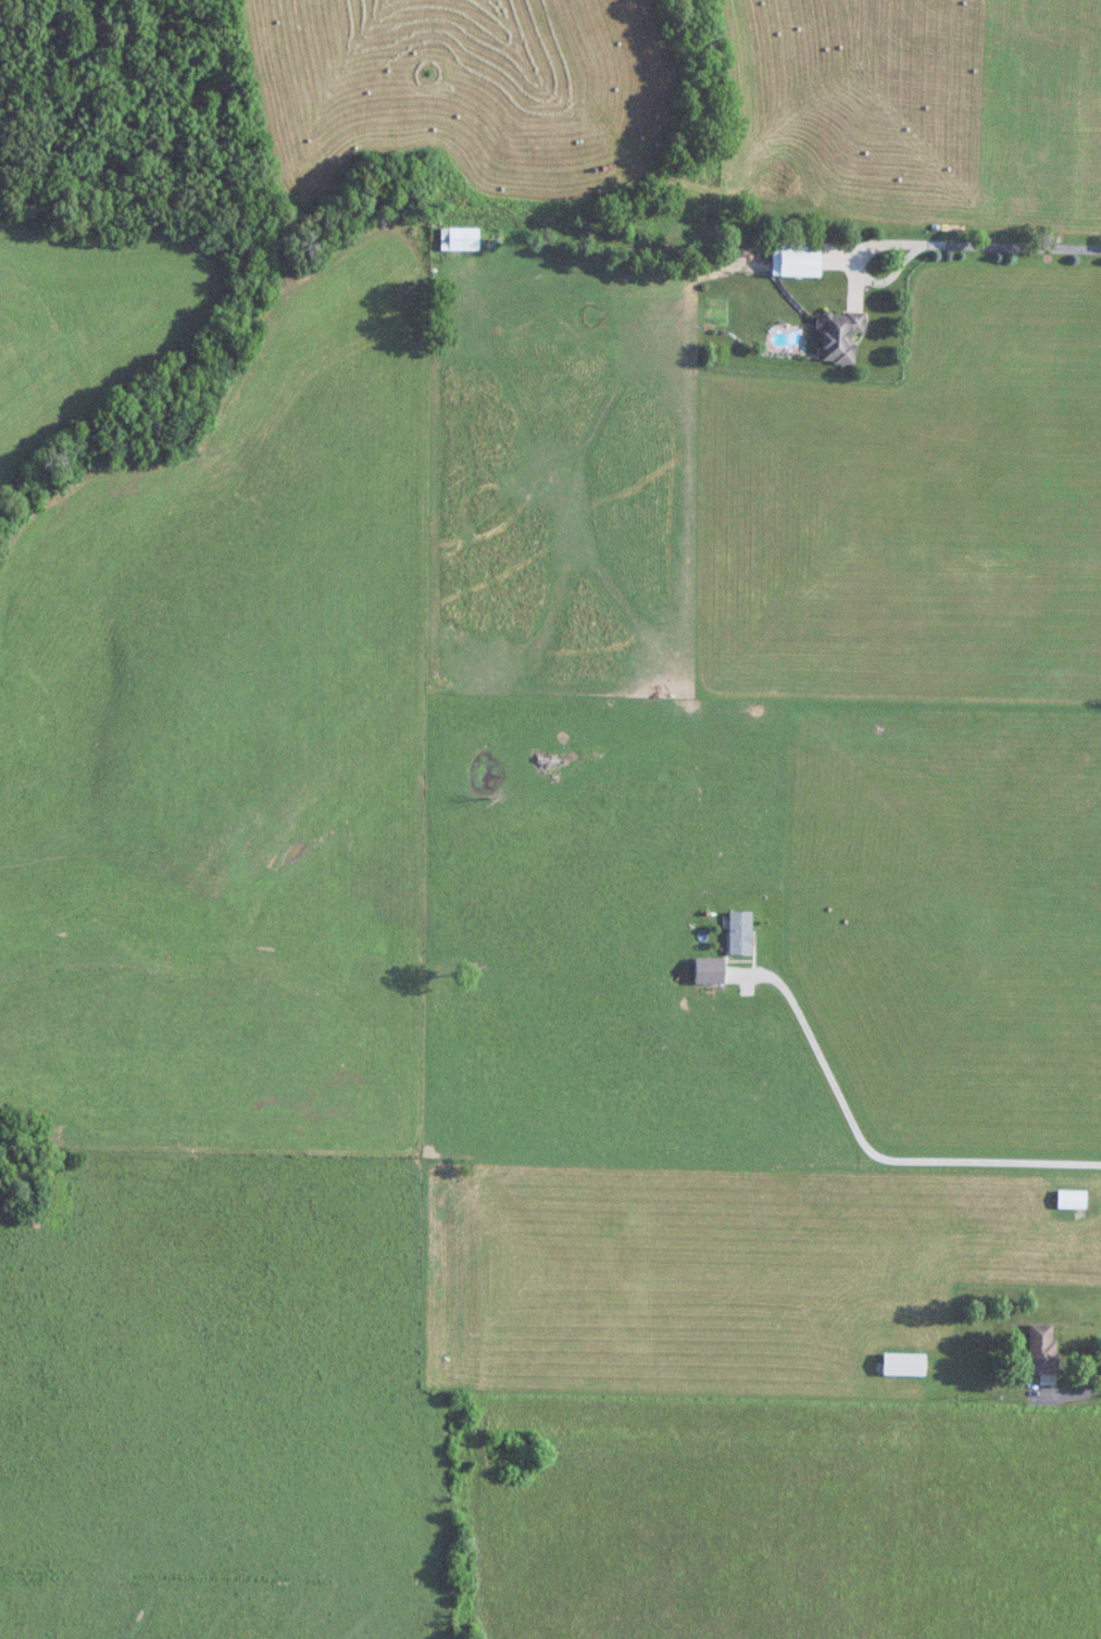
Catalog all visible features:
building: (461, 240)
road: (958, 241)
building: (806, 260)
road: (900, 274)
crop: (91, 315)
building: (850, 330)
building: (749, 929)
road: (878, 1147)
building: (1080, 1197)
building: (1052, 1347)
road: (1078, 1391)
crop: (781, 1519)

